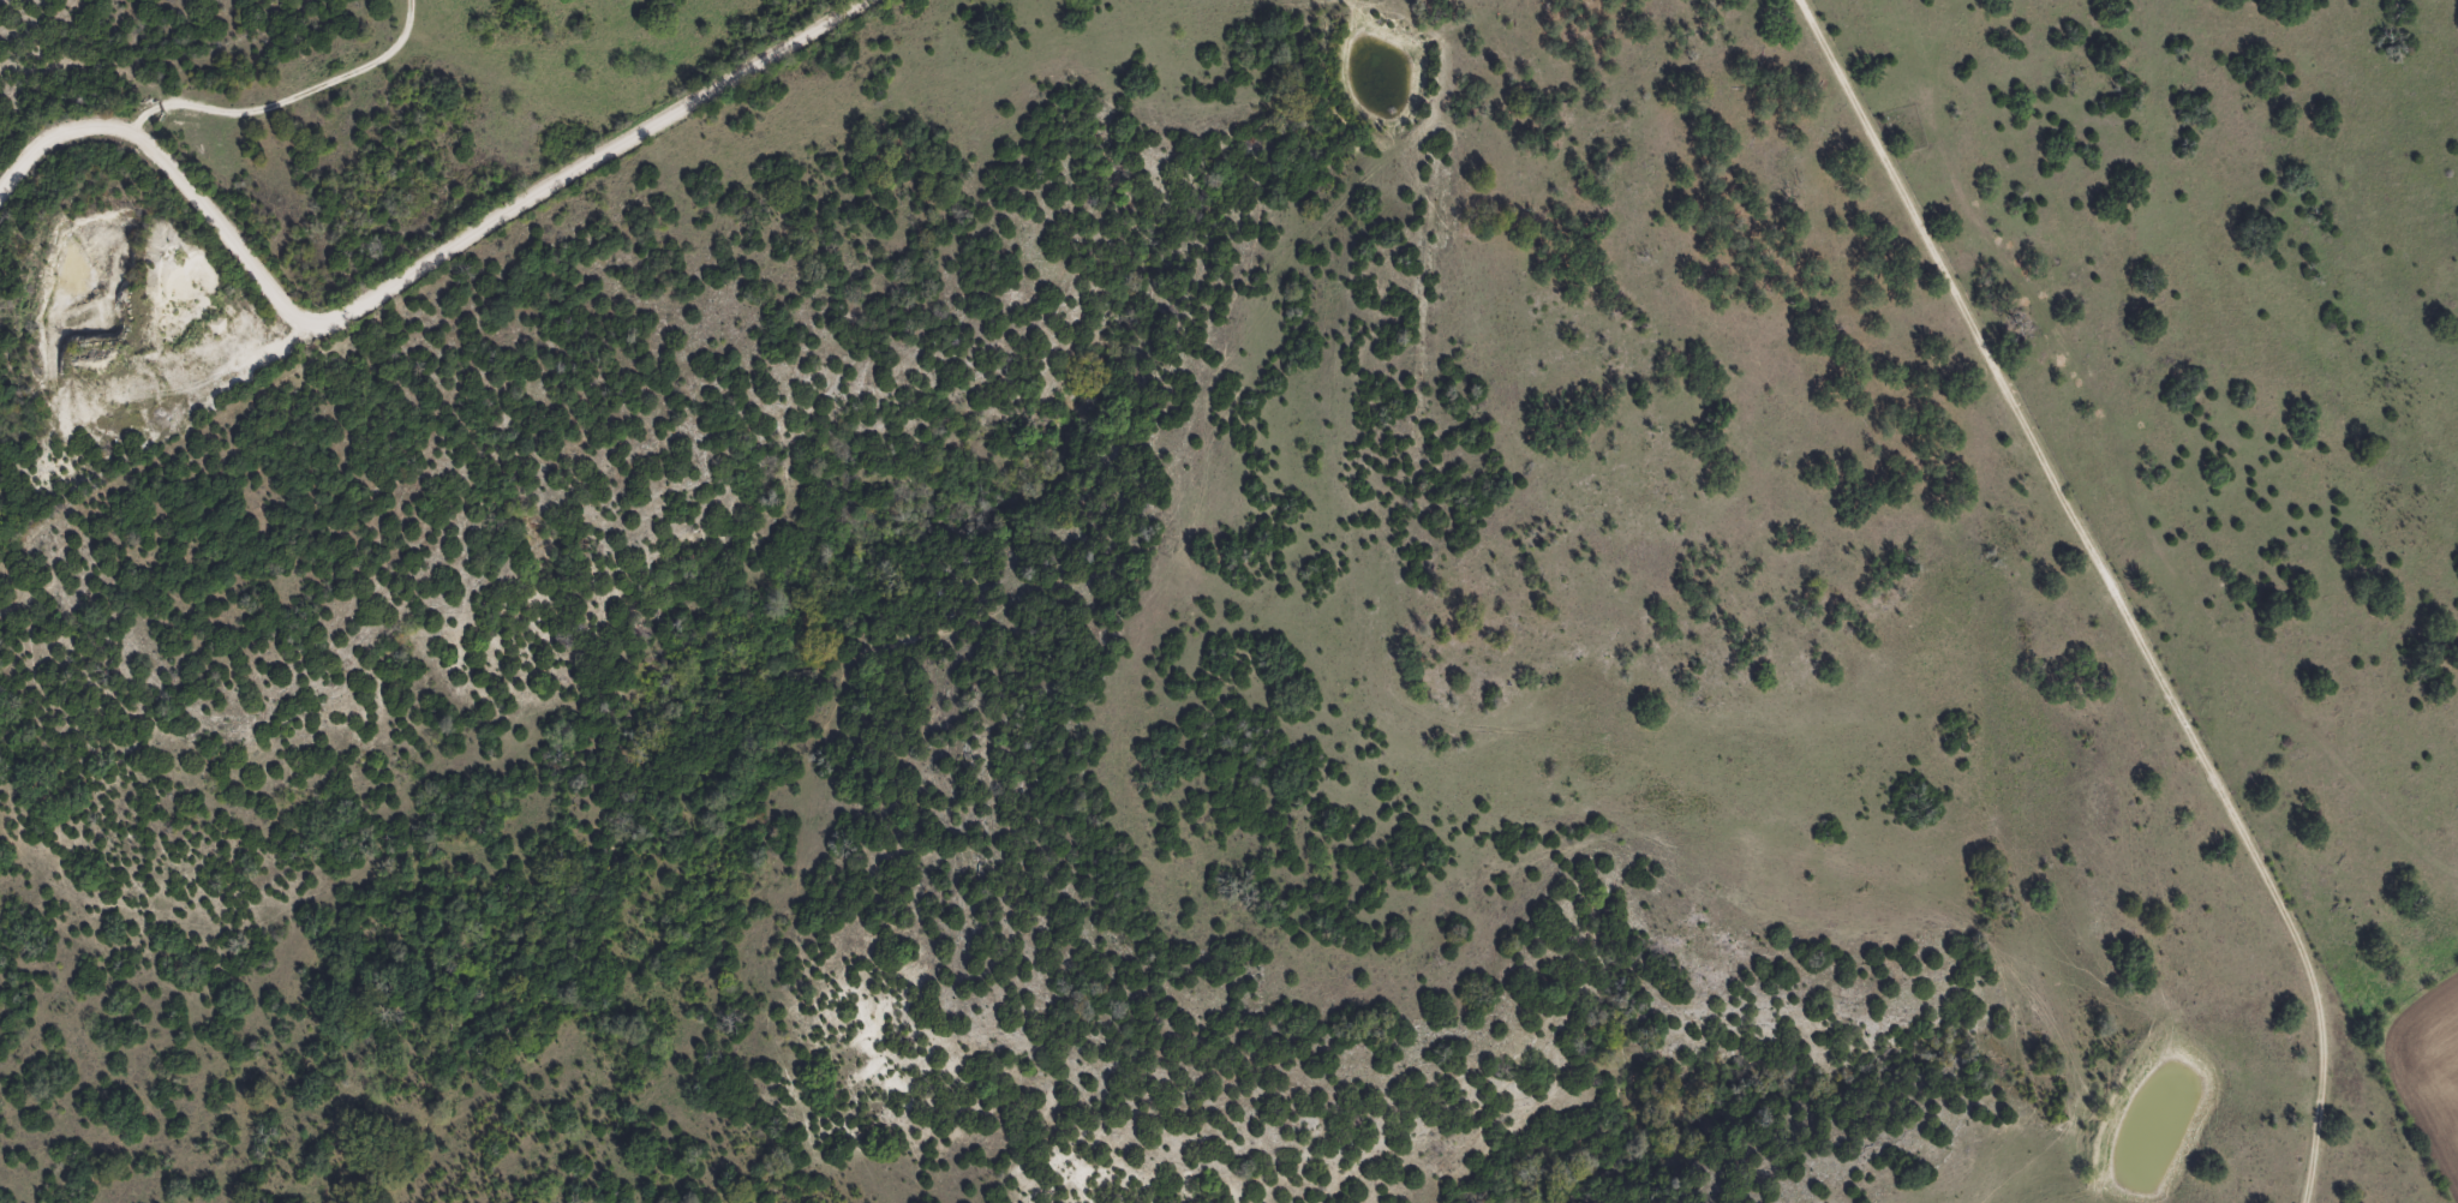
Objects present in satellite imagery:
park: (1903, 127)
road: (407, 273)
road: (2105, 599)

